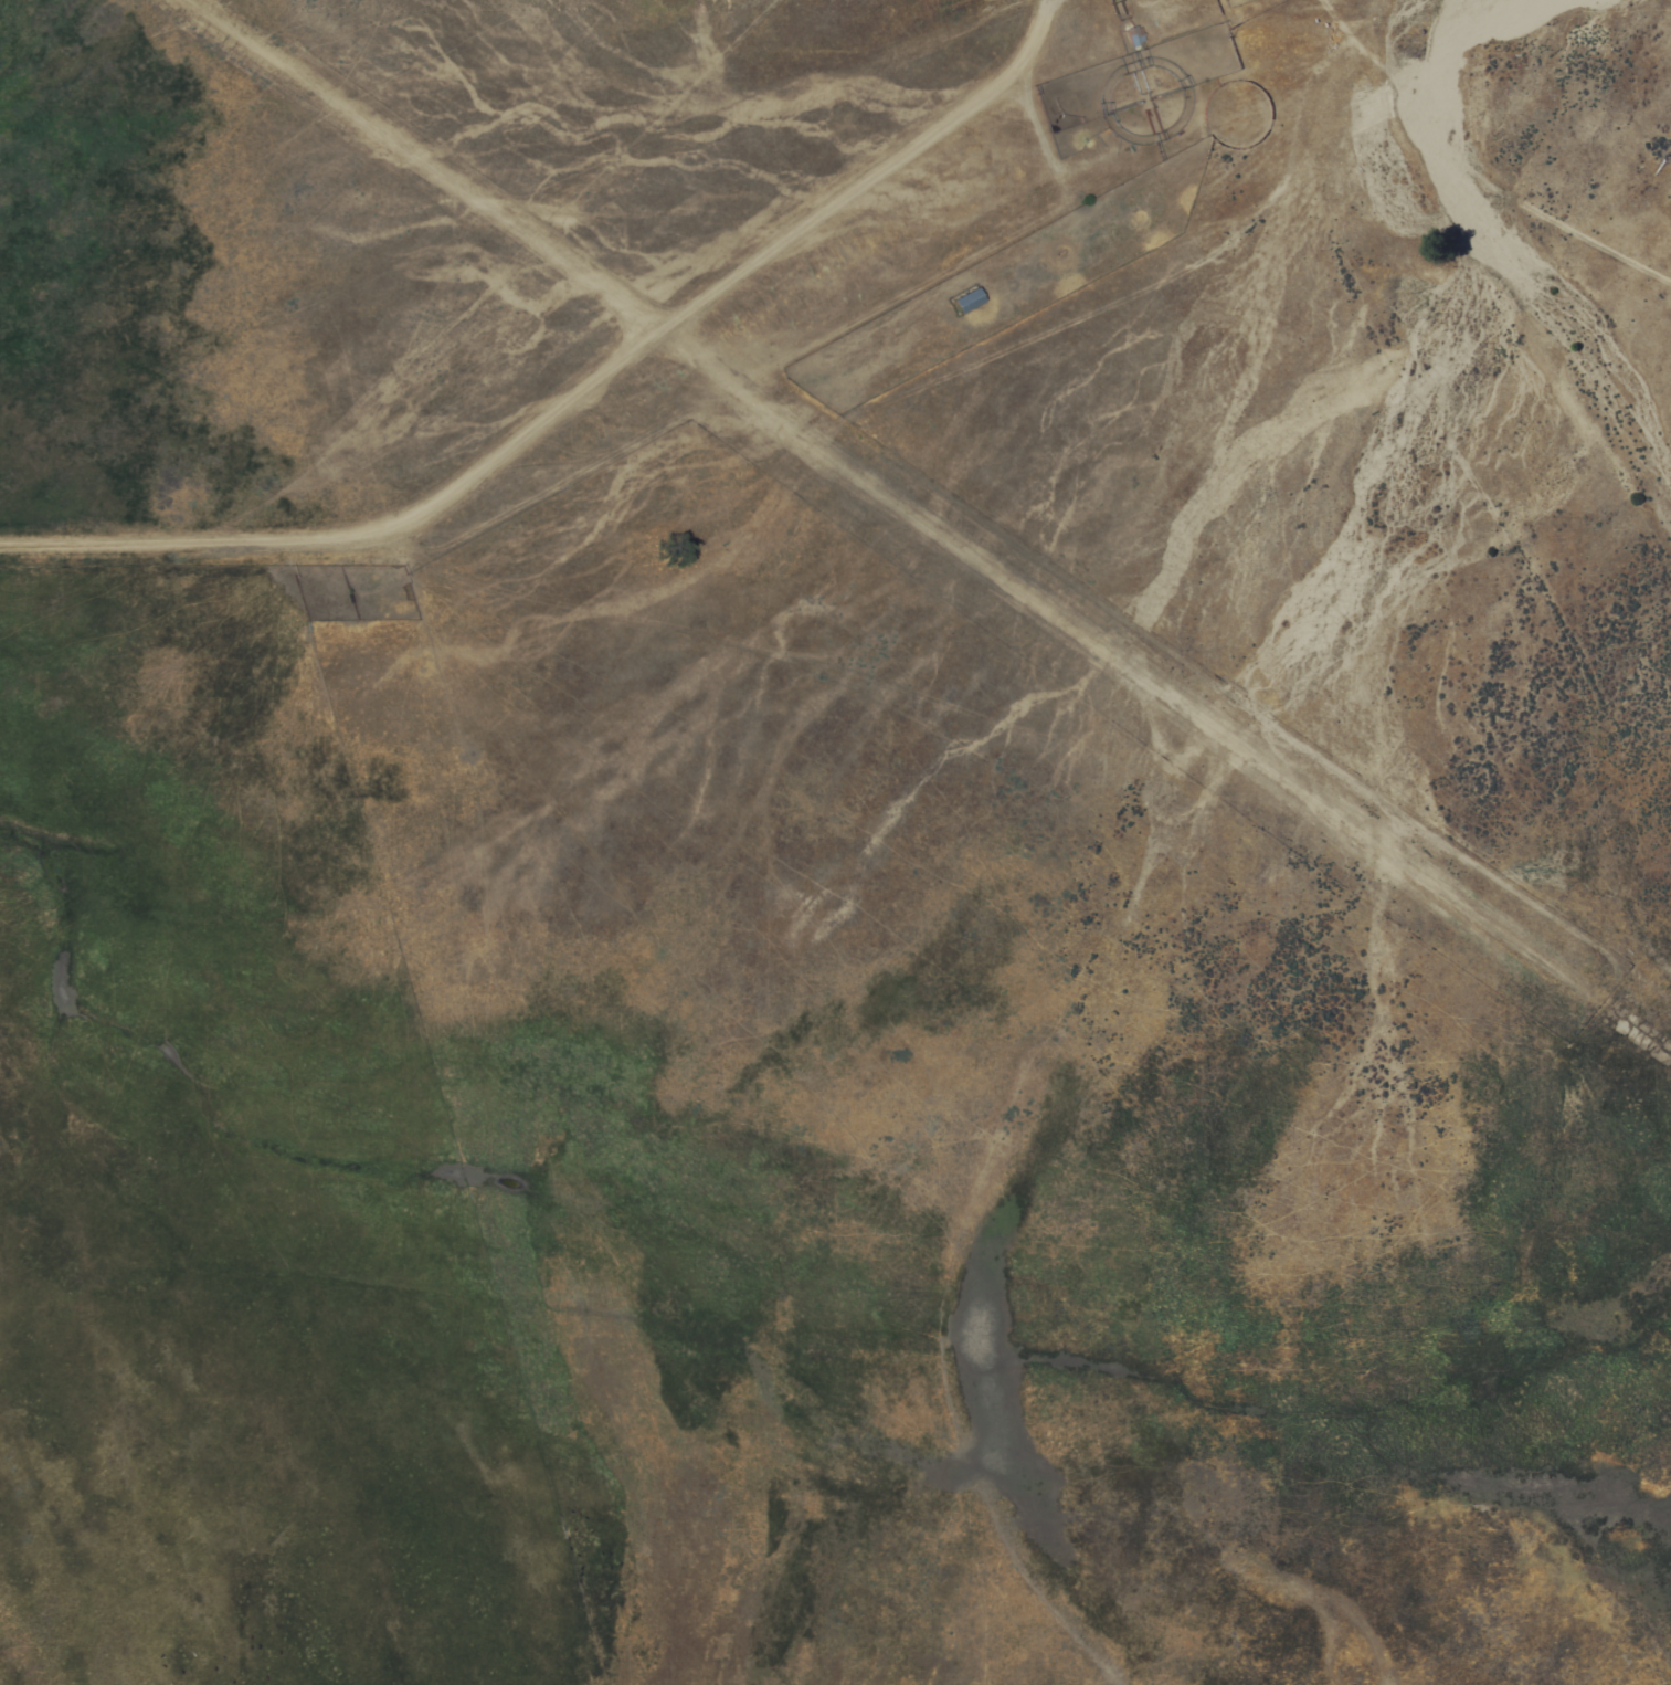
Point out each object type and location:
road: (577, 396)
airport runway: (1175, 694)

